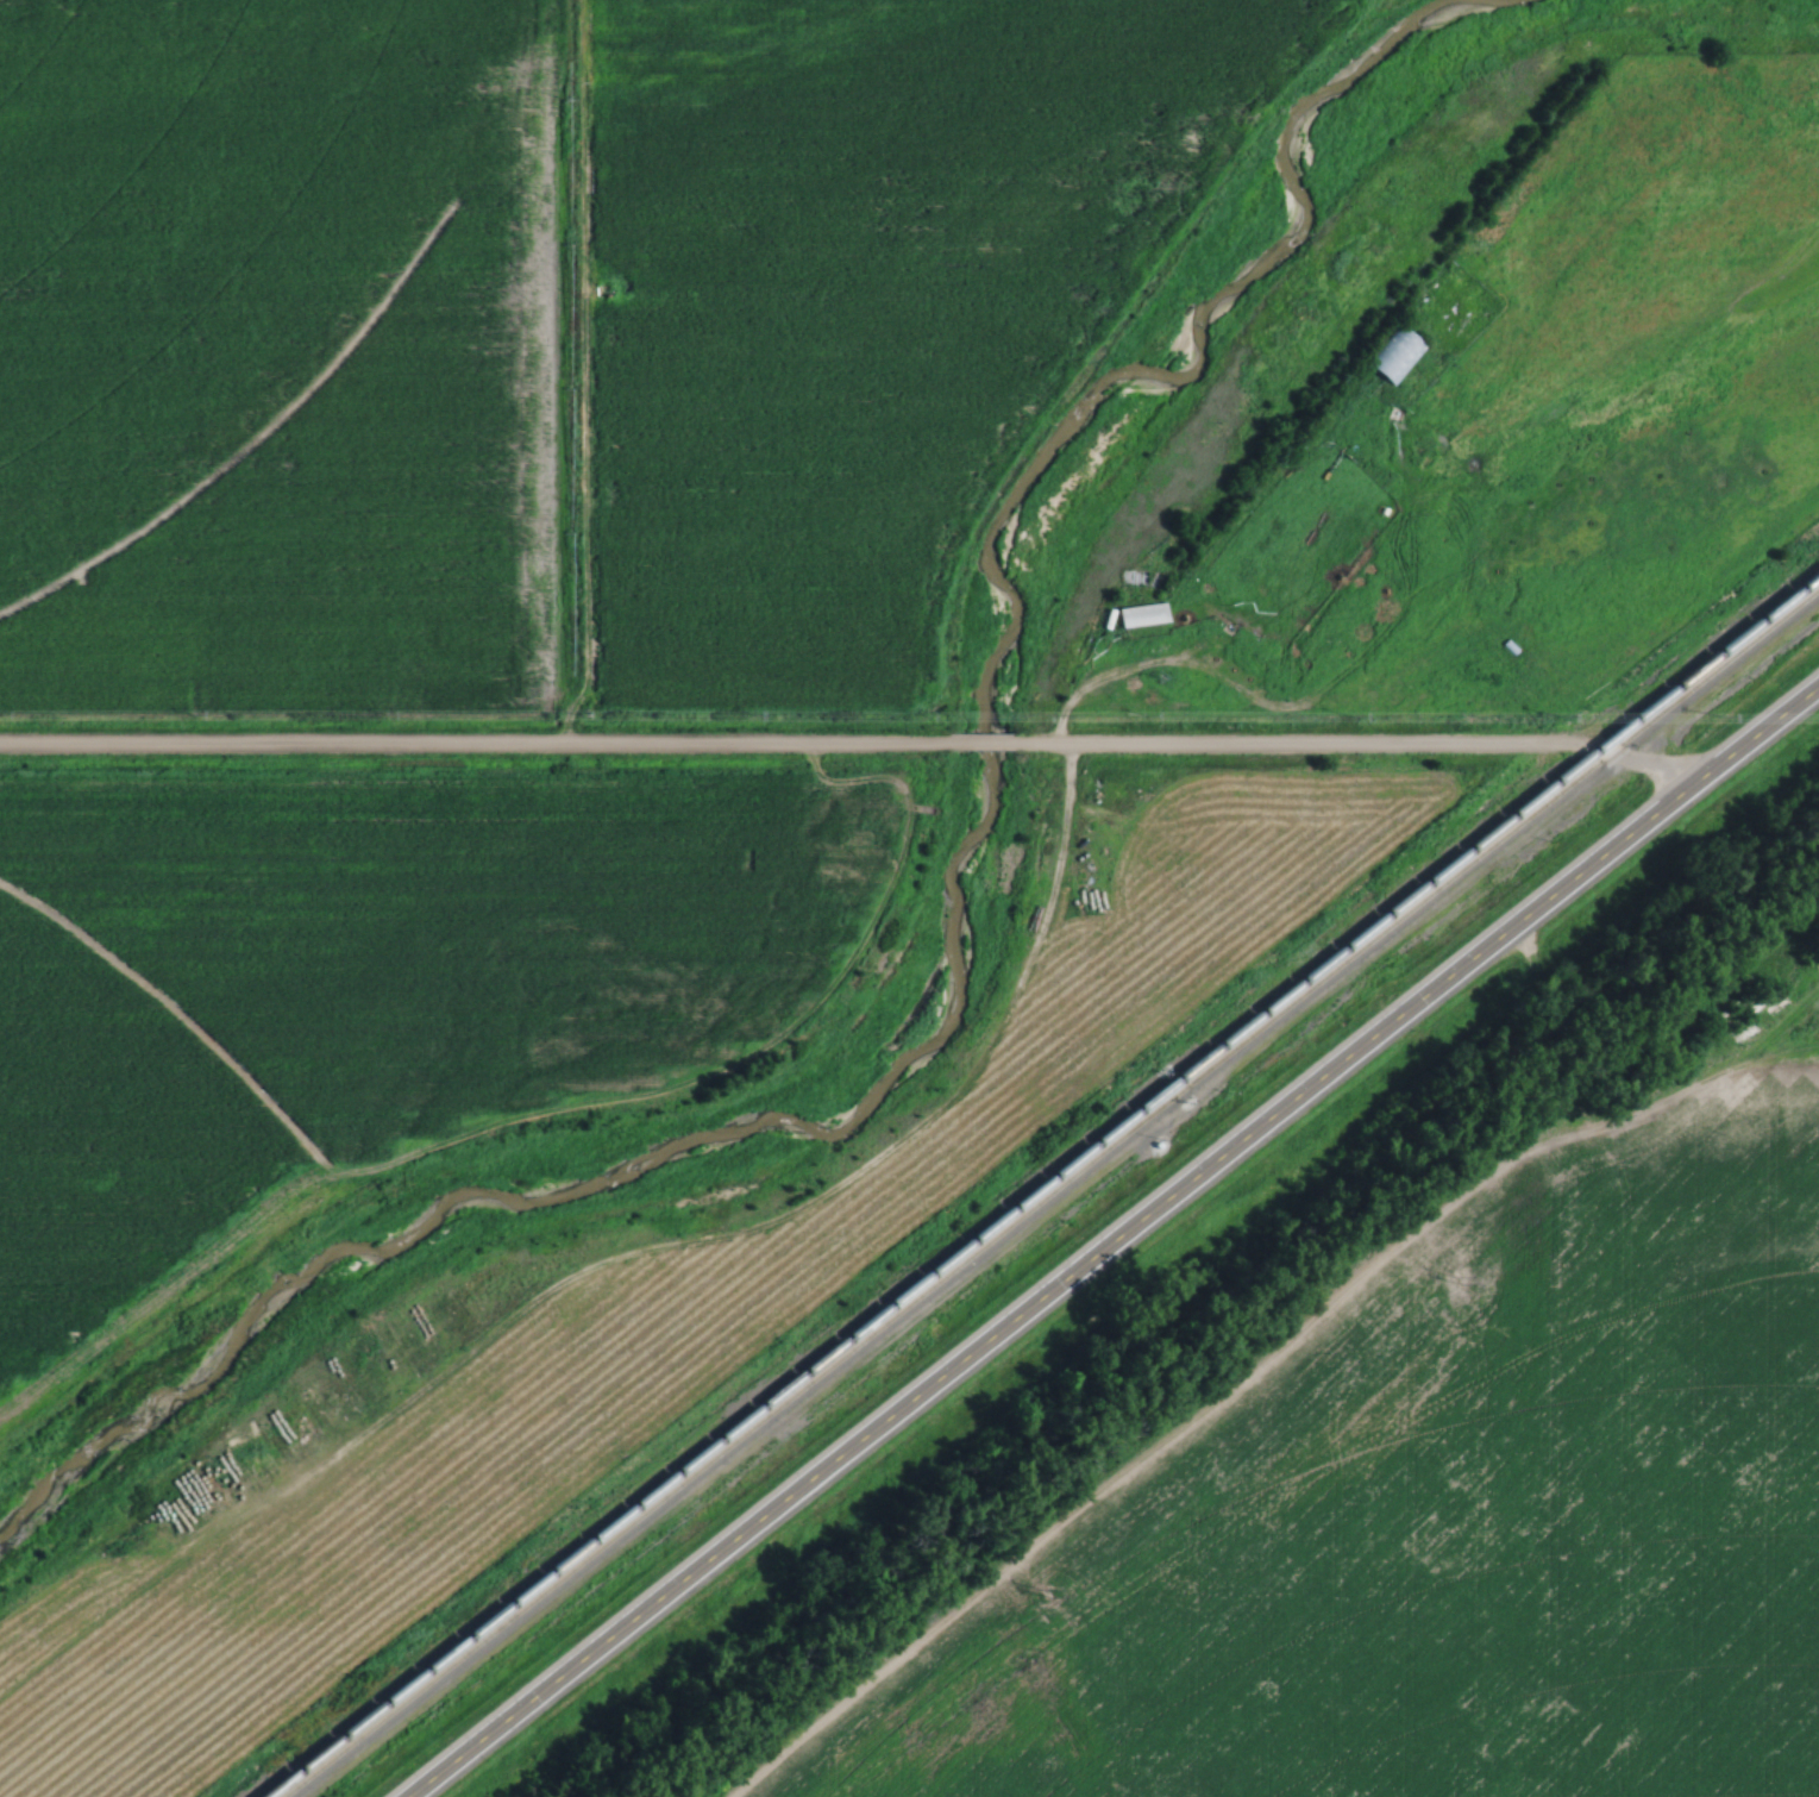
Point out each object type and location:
building: (1393, 355)
building: (1144, 615)
road: (978, 740)
road: (1353, 743)
road: (473, 747)
railway: (1041, 1185)
railway: (1053, 1194)
road: (1121, 1244)

